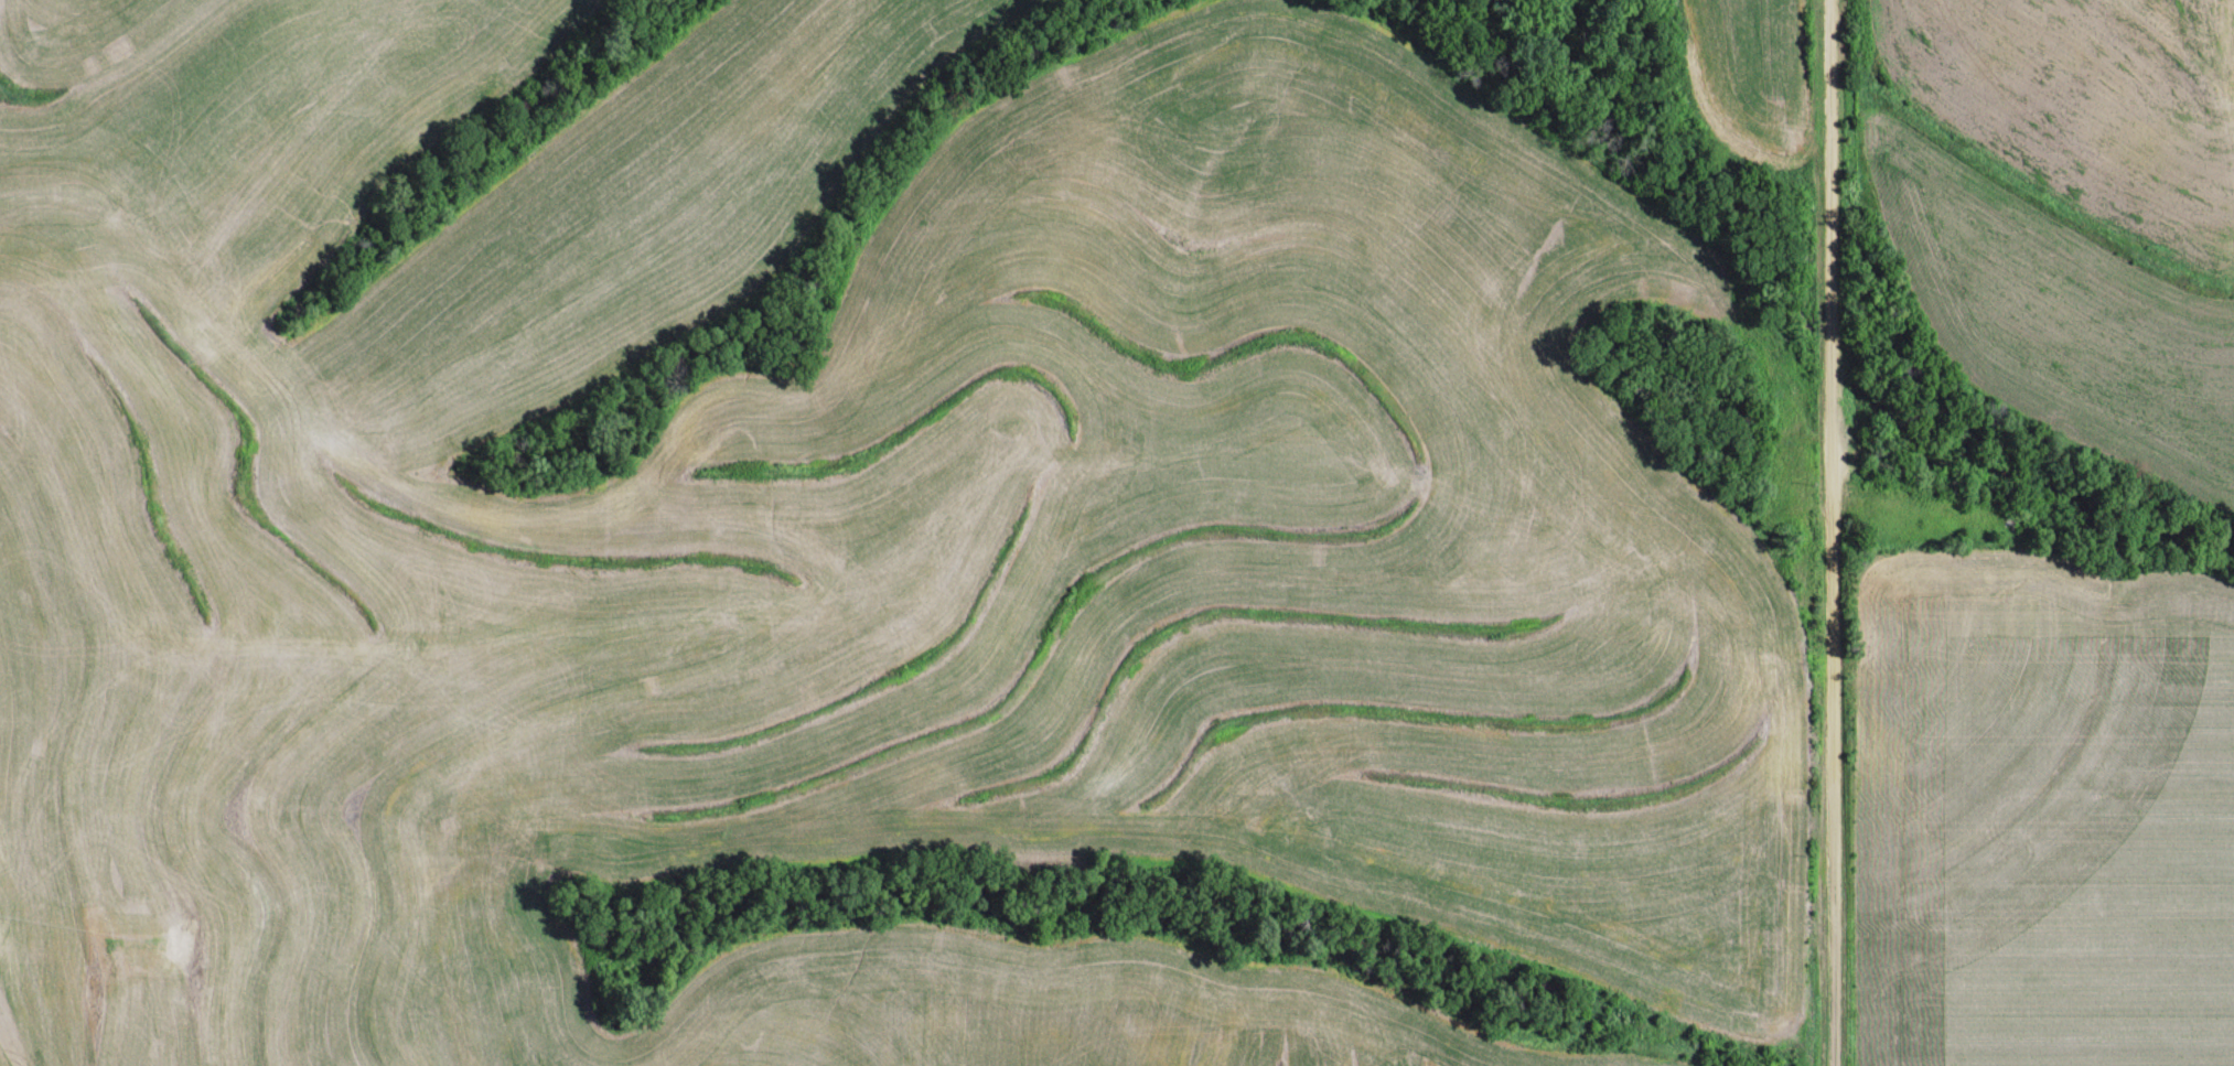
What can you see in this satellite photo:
road: (1830, 532)

